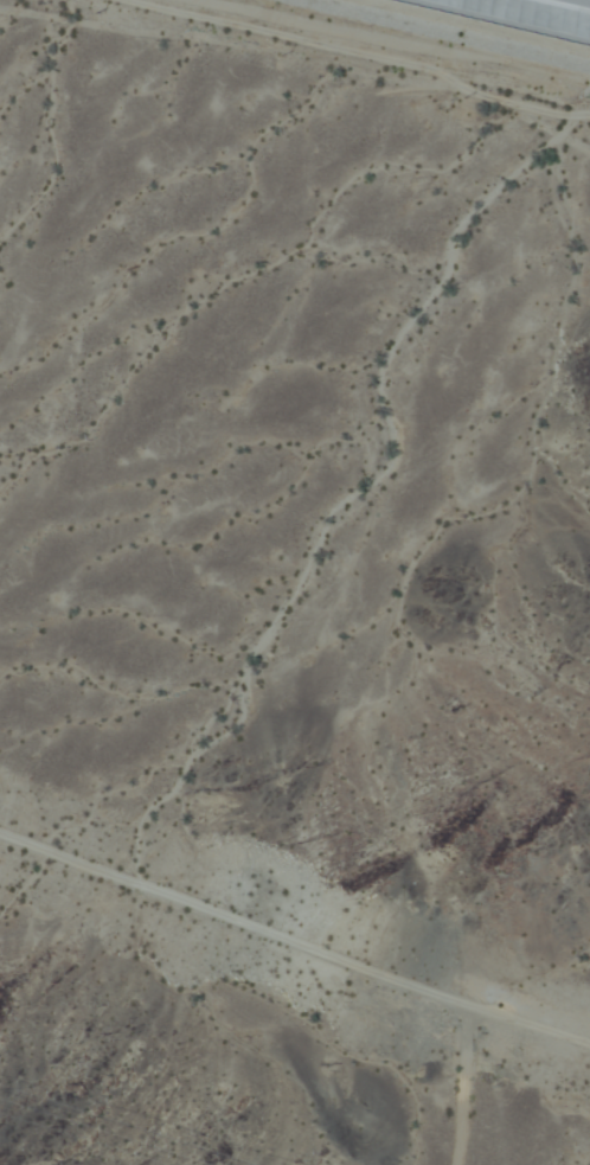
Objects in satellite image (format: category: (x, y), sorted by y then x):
power substation: (519, 17)
road: (360, 56)
road: (294, 941)

